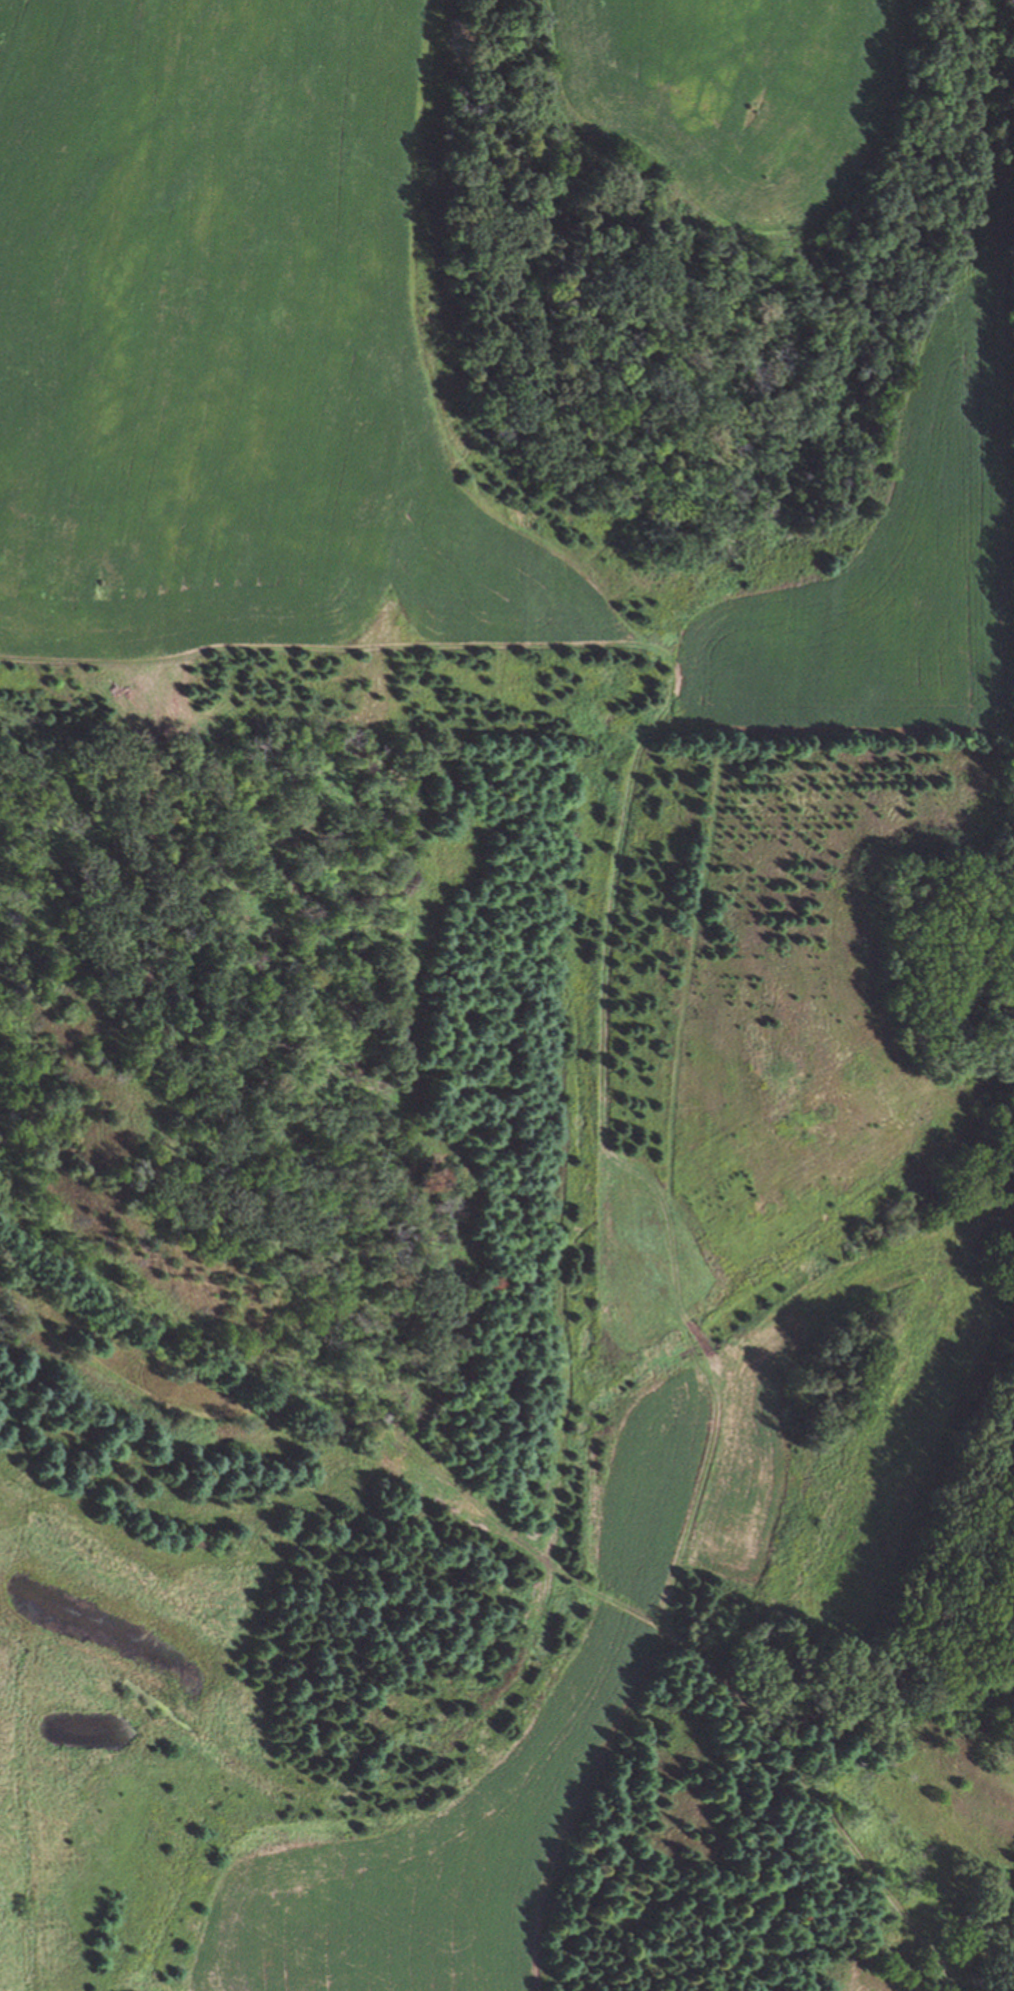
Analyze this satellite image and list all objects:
road: (832, 1820)

